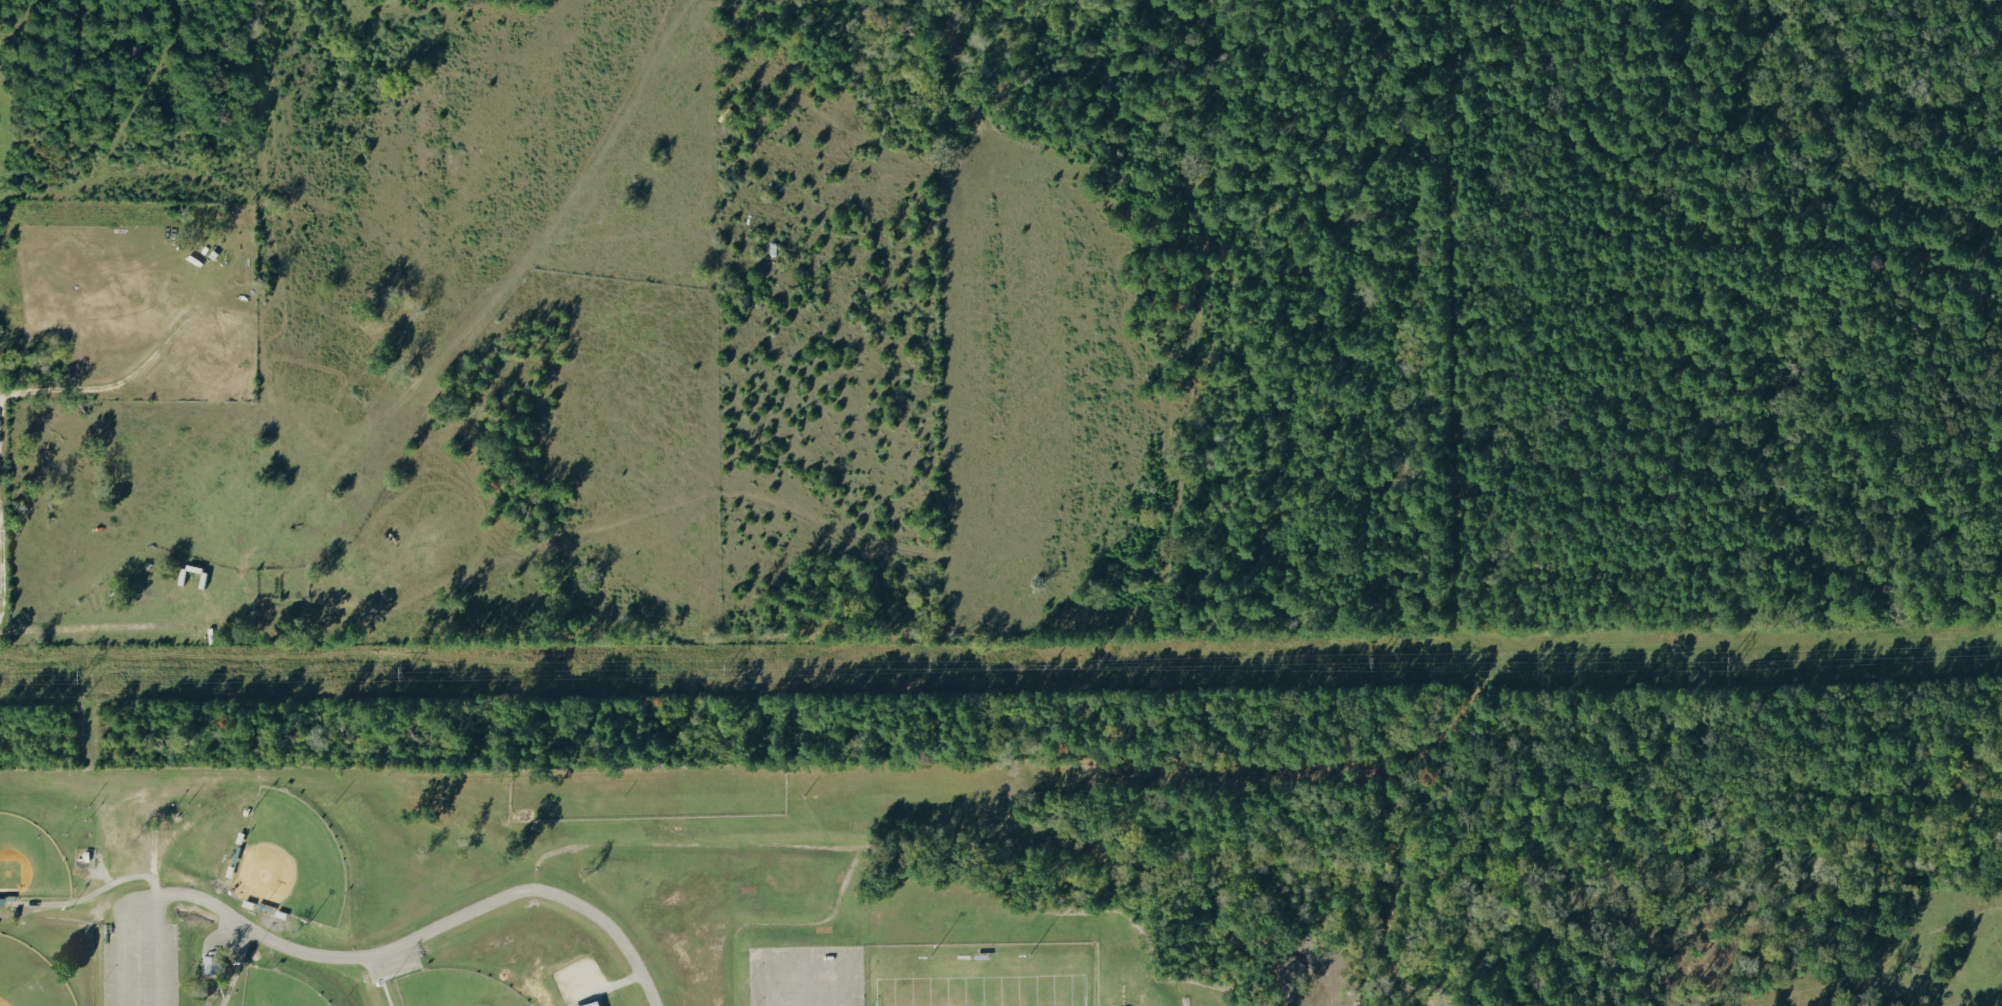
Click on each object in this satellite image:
road: (90, 632)
power tower: (1727, 659)
power tower: (1372, 666)
power tower: (1052, 672)
power tower: (718, 676)
power tower: (78, 678)
power tower: (390, 678)
road: (157, 950)
road: (364, 956)
building: (213, 964)
road: (804, 966)
road: (805, 986)
building: (594, 1004)

